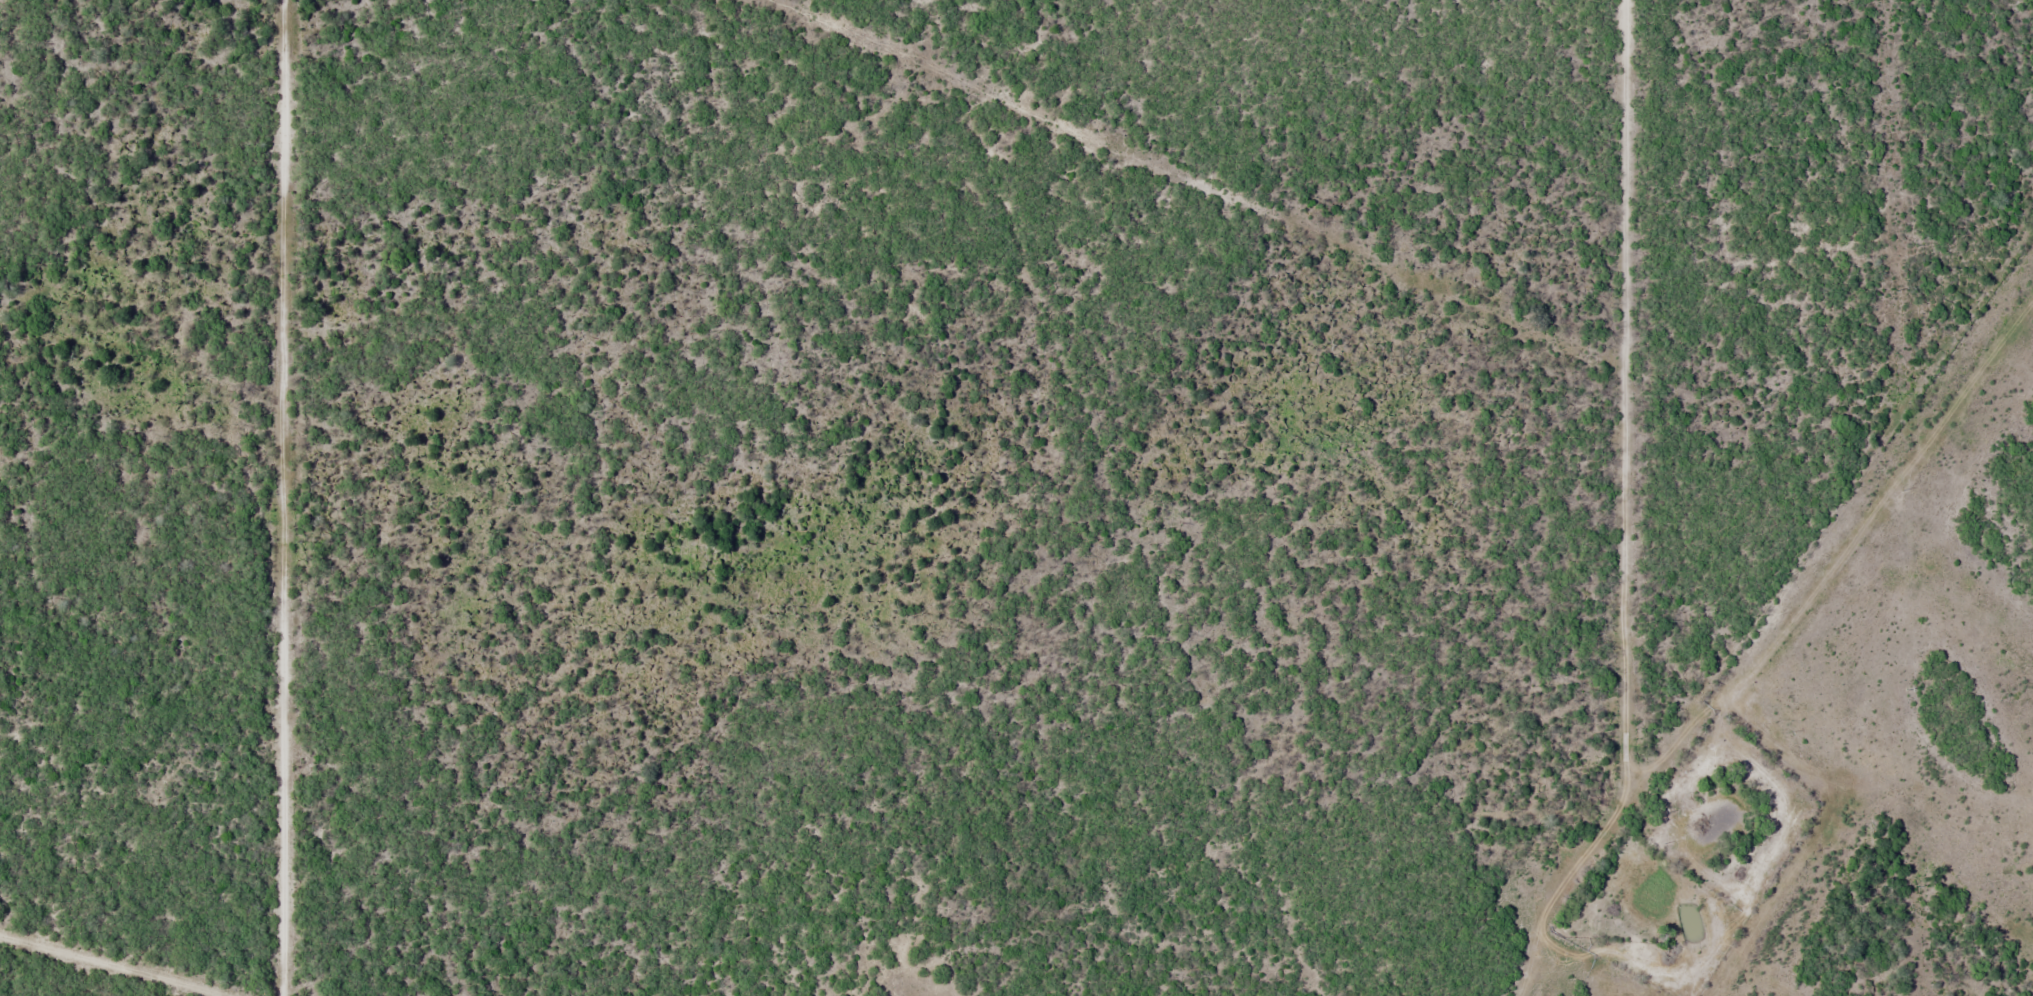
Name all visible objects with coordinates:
road: (283, 498)
road: (1643, 511)
road: (1386, 886)
road: (110, 965)

